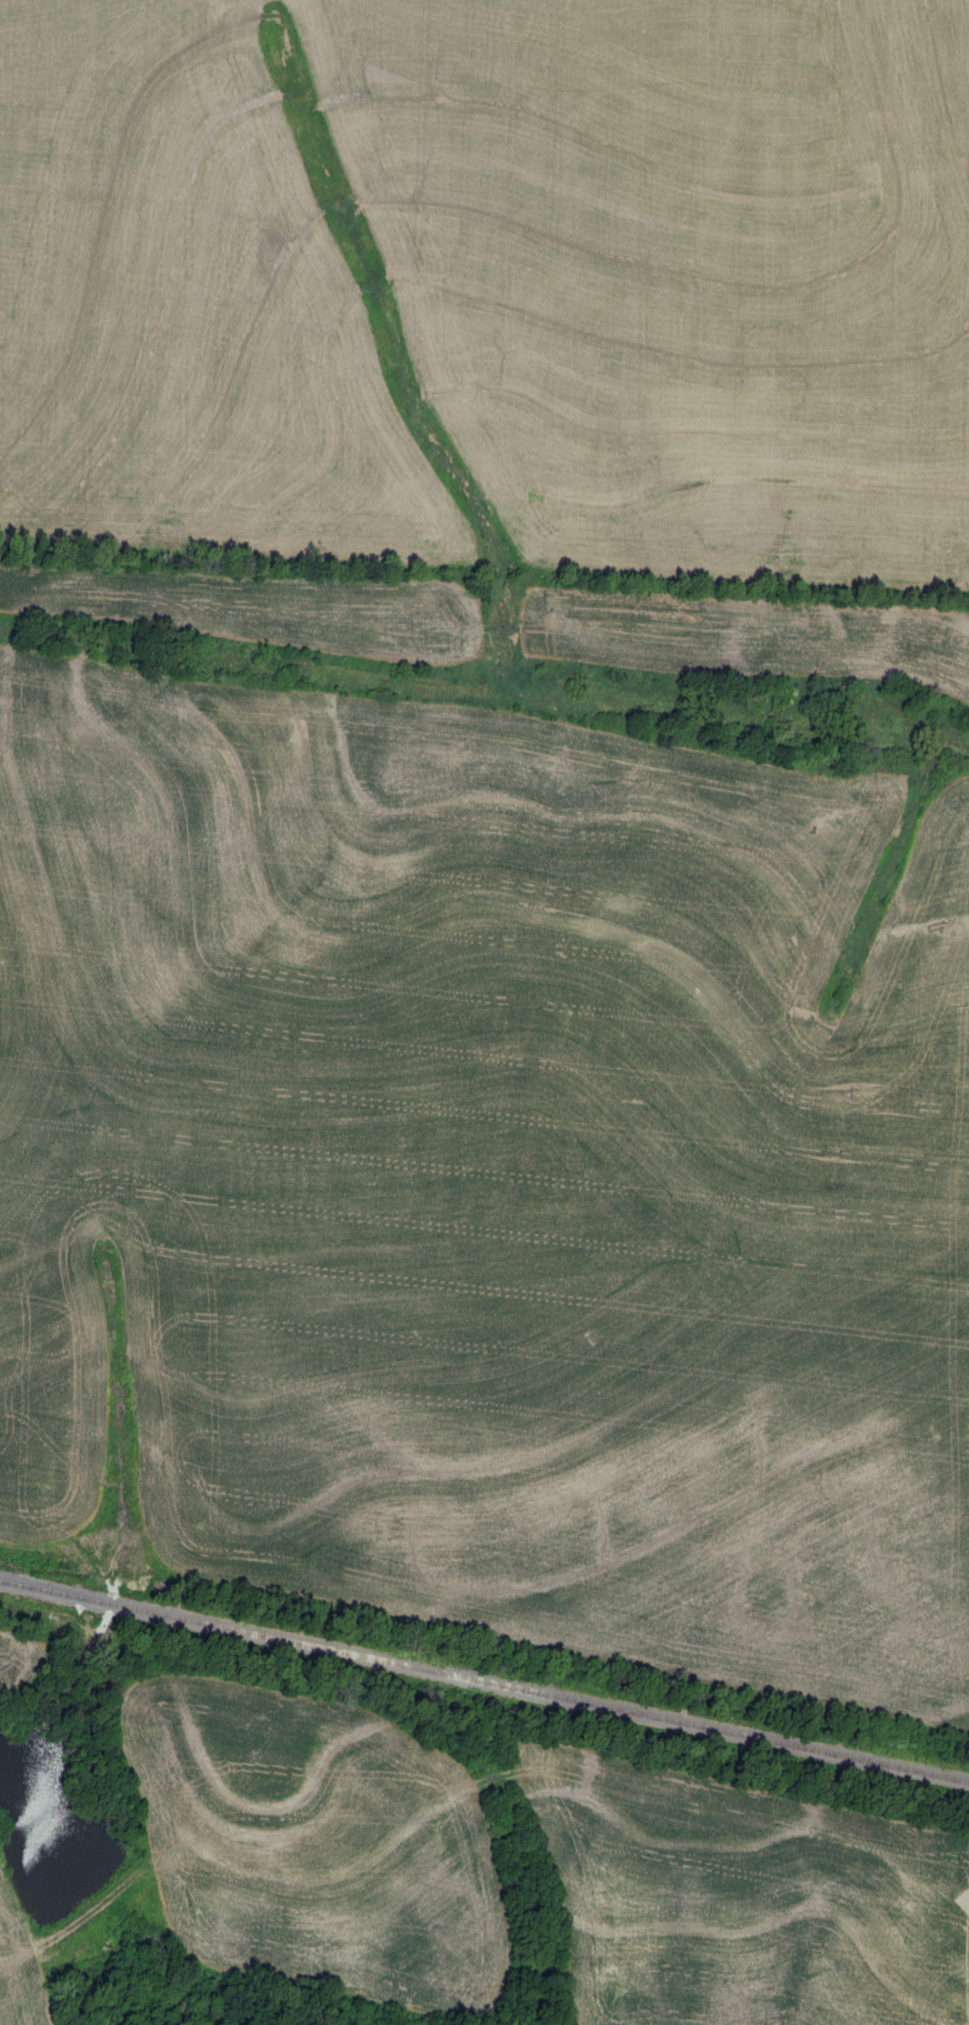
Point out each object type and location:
railway: (484, 1684)

